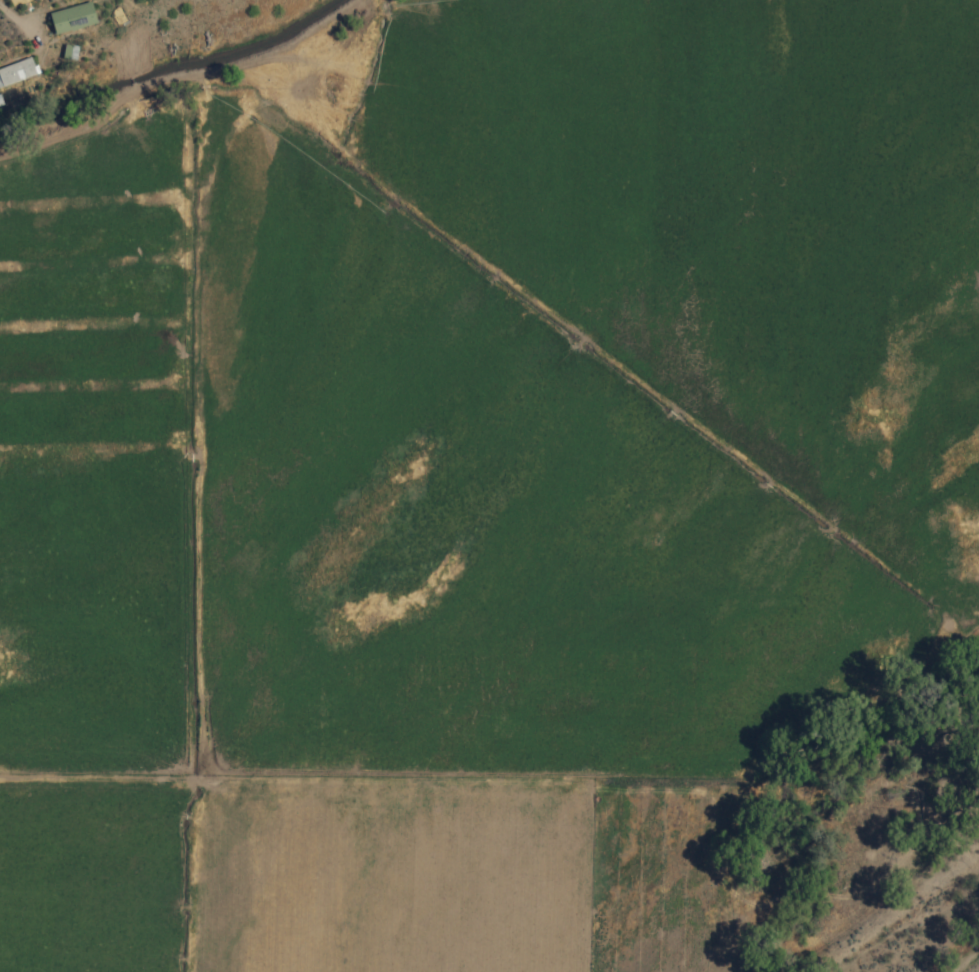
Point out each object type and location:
building: (70, 20)
building: (15, 74)

